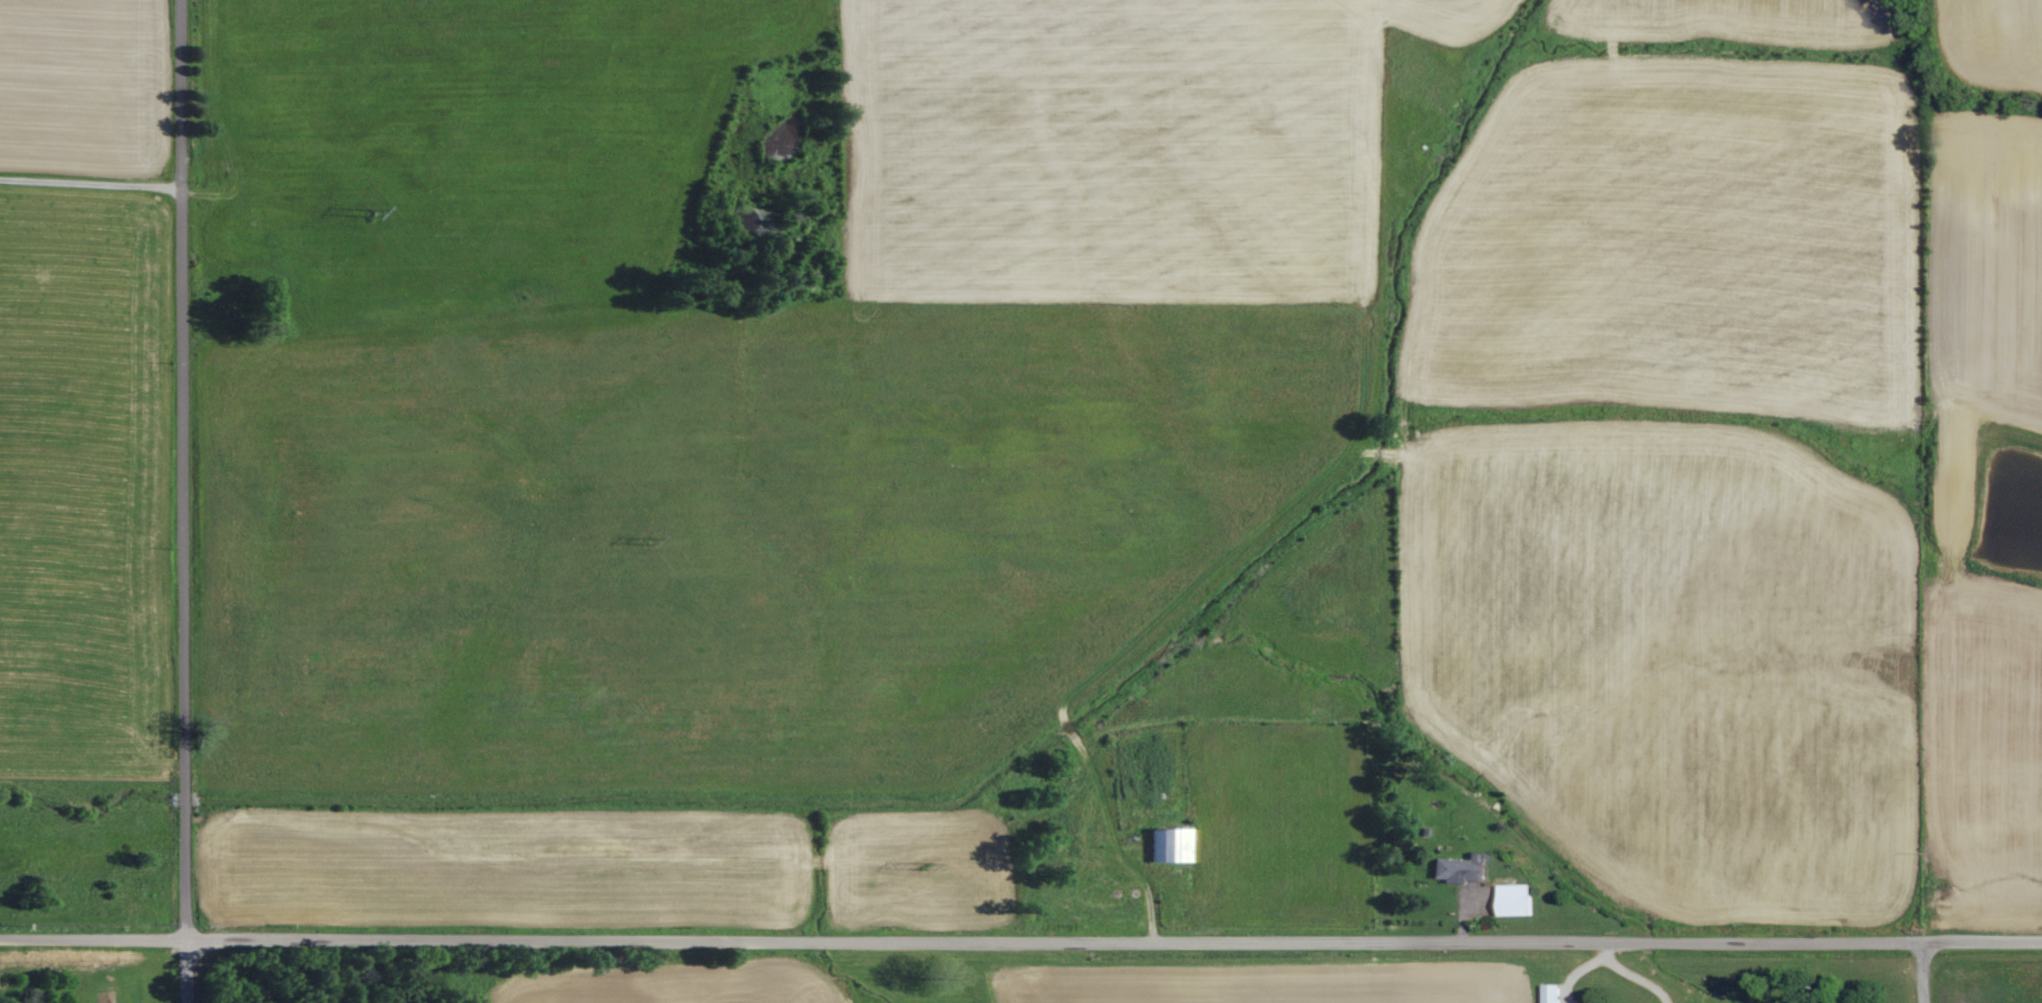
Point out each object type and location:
road: (89, 182)
power tower: (365, 219)
road: (179, 468)
power tower: (641, 540)
building: (1171, 845)
power tower: (921, 868)
building: (1462, 868)
building: (1521, 900)
road: (91, 936)
road: (568, 940)
road: (1983, 940)
road: (1439, 942)
road: (1604, 950)
road: (1610, 961)
road: (183, 970)
road: (1926, 972)
building: (1556, 993)

